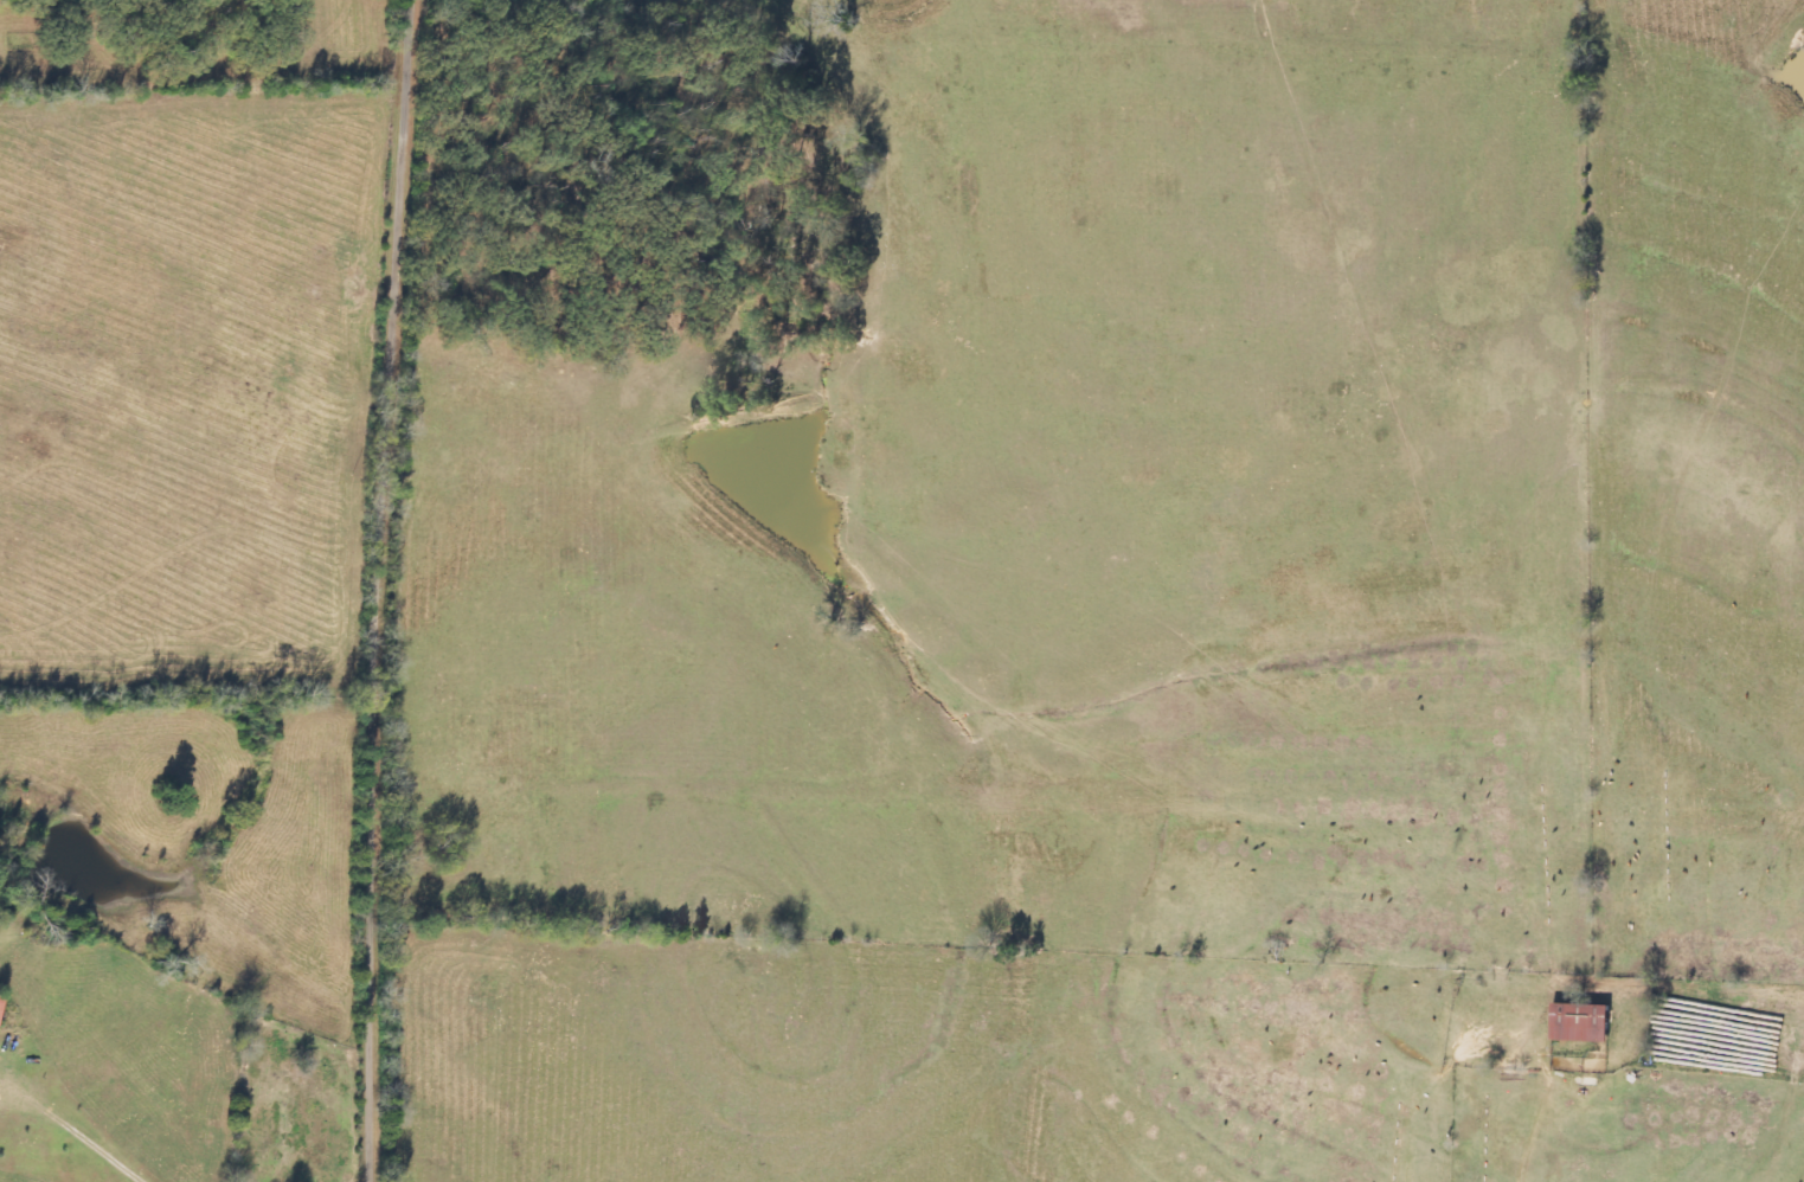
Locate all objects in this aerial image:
road: (386, 590)
building: (0, 1000)
building: (1580, 1023)

